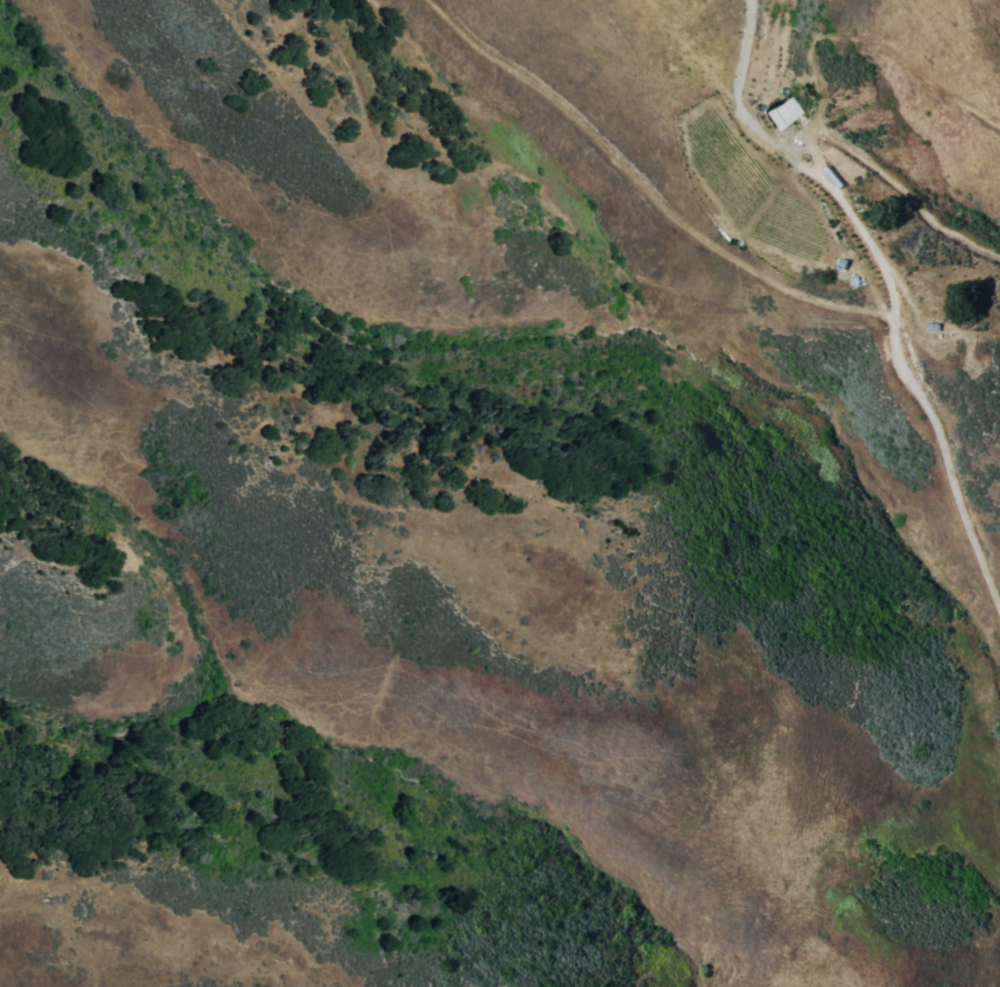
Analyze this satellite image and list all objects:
building: (783, 112)
road: (887, 303)

